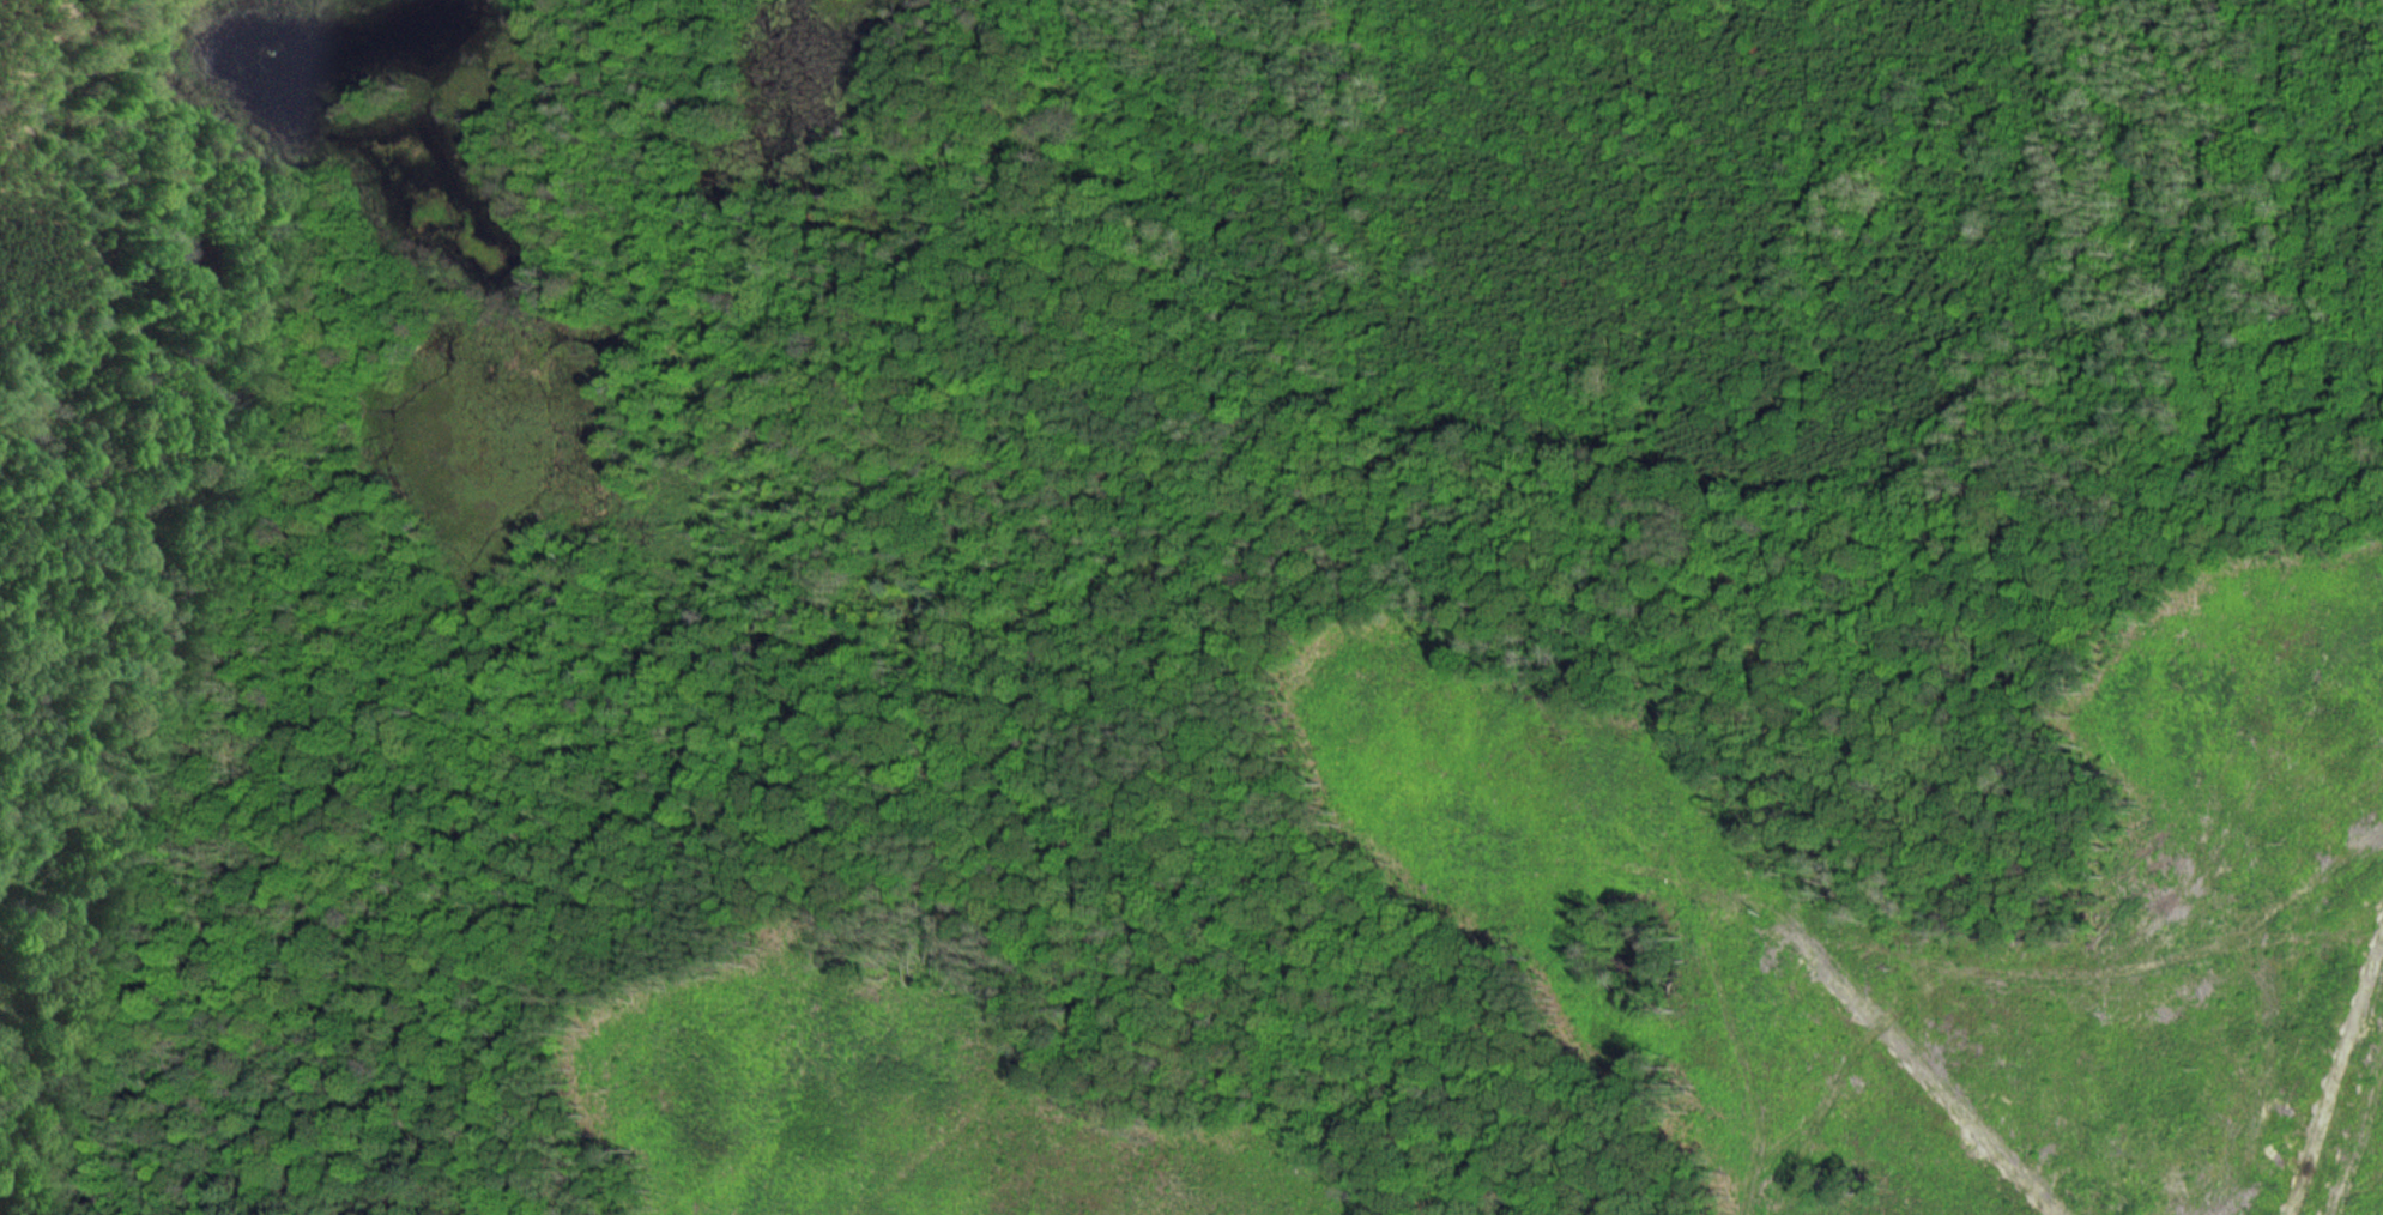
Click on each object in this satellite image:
road: (59, 1119)

